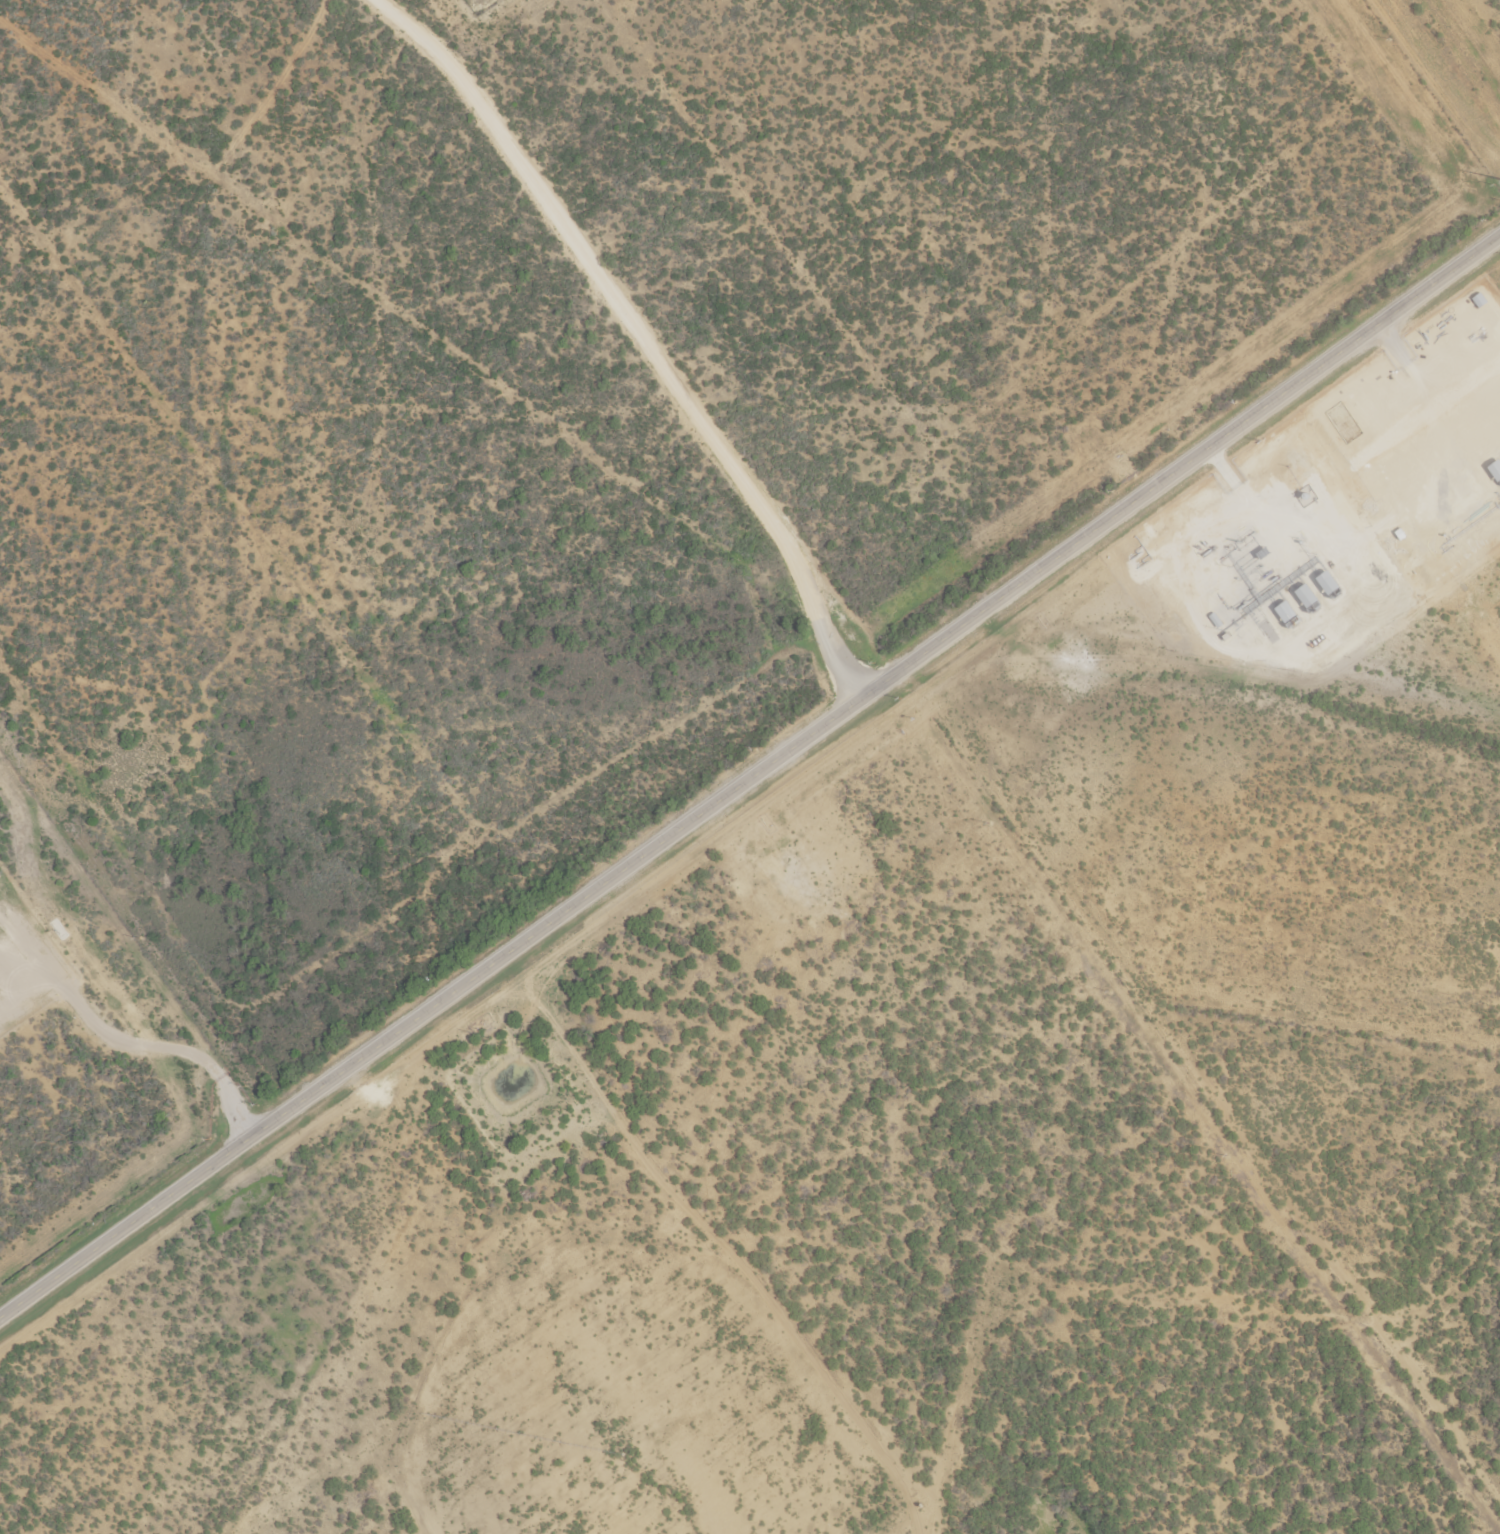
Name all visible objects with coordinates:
road: (961, 759)
road: (750, 785)

